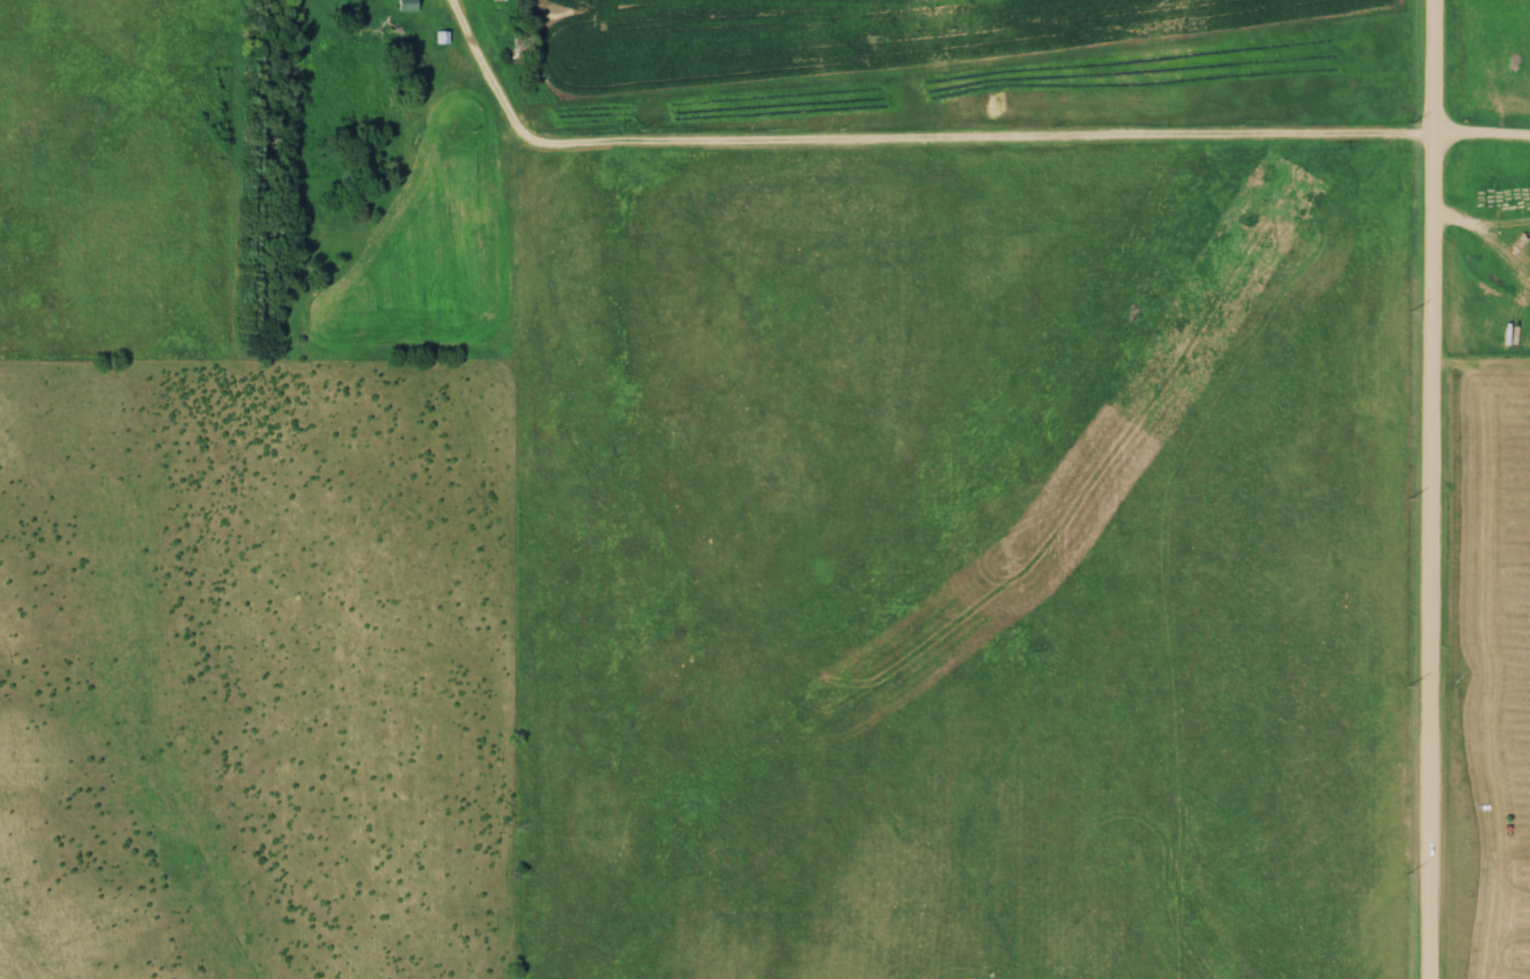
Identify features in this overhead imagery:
road: (947, 141)
road: (1431, 489)

